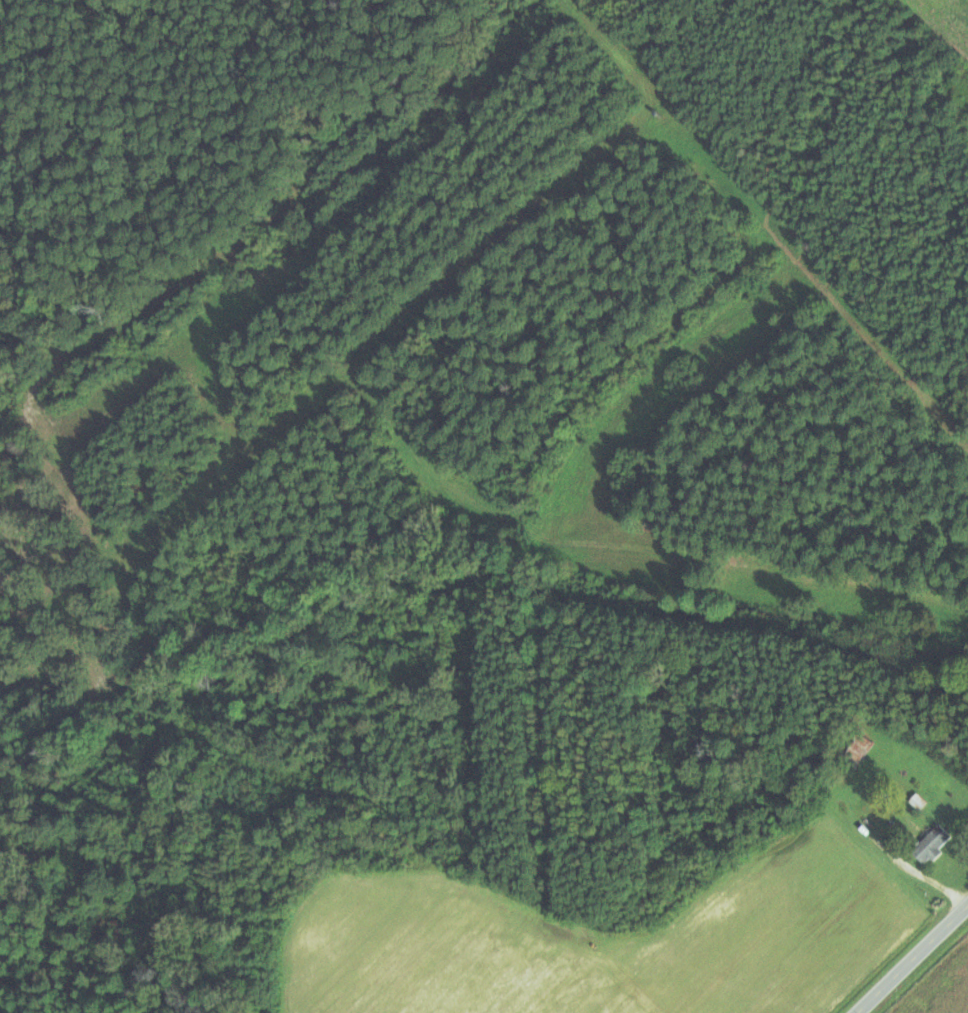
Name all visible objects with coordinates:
building: (860, 746)
building: (919, 802)
building: (931, 844)
road: (911, 958)

